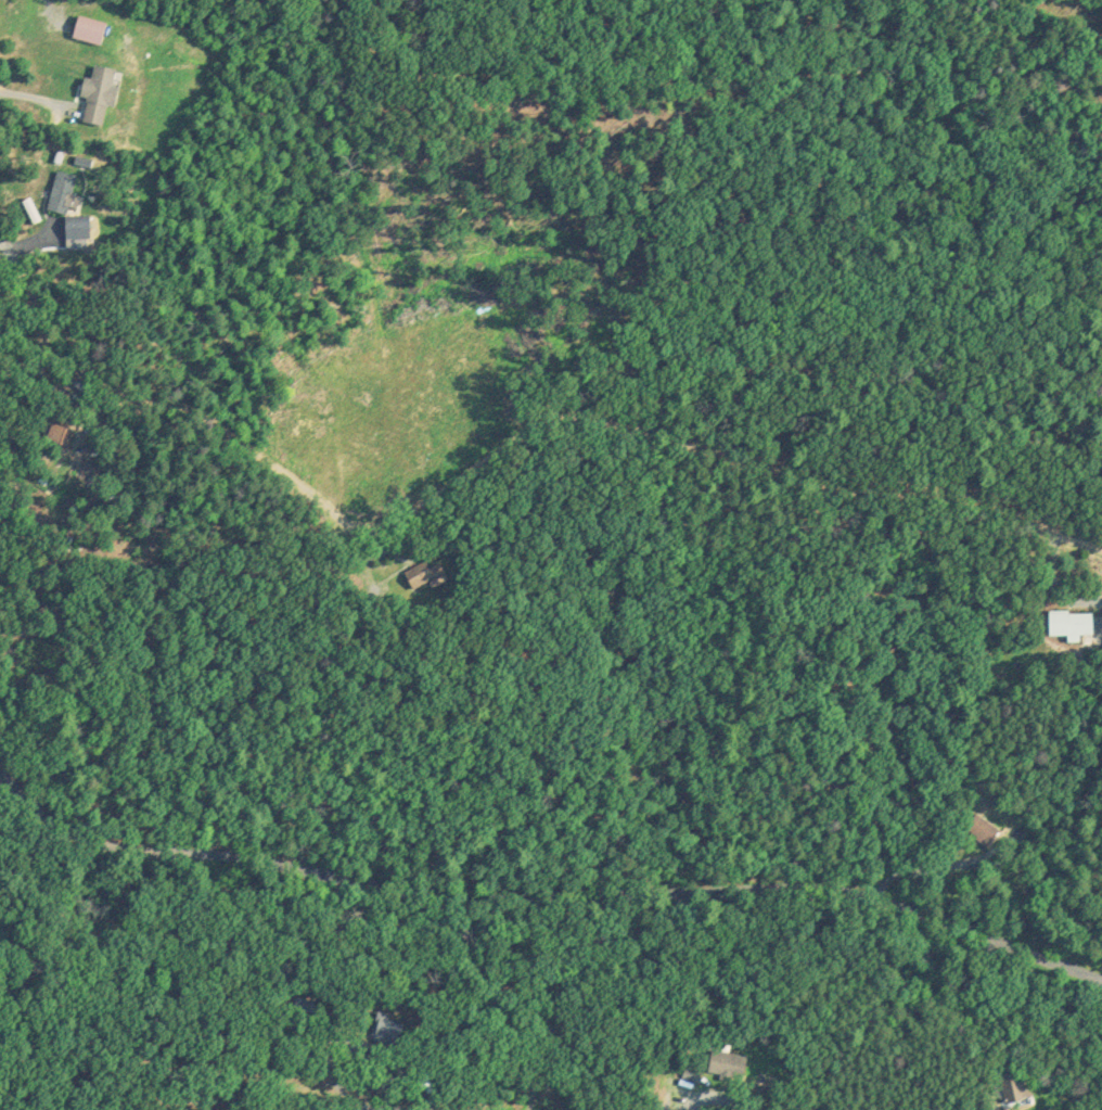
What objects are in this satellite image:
building: (91, 26)
building: (101, 90)
building: (63, 189)
building: (59, 434)
road: (509, 439)
building: (420, 571)
building: (1073, 620)
road: (374, 725)
building: (984, 826)
road: (936, 873)
road: (548, 886)
building: (726, 1060)
building: (1015, 1085)

